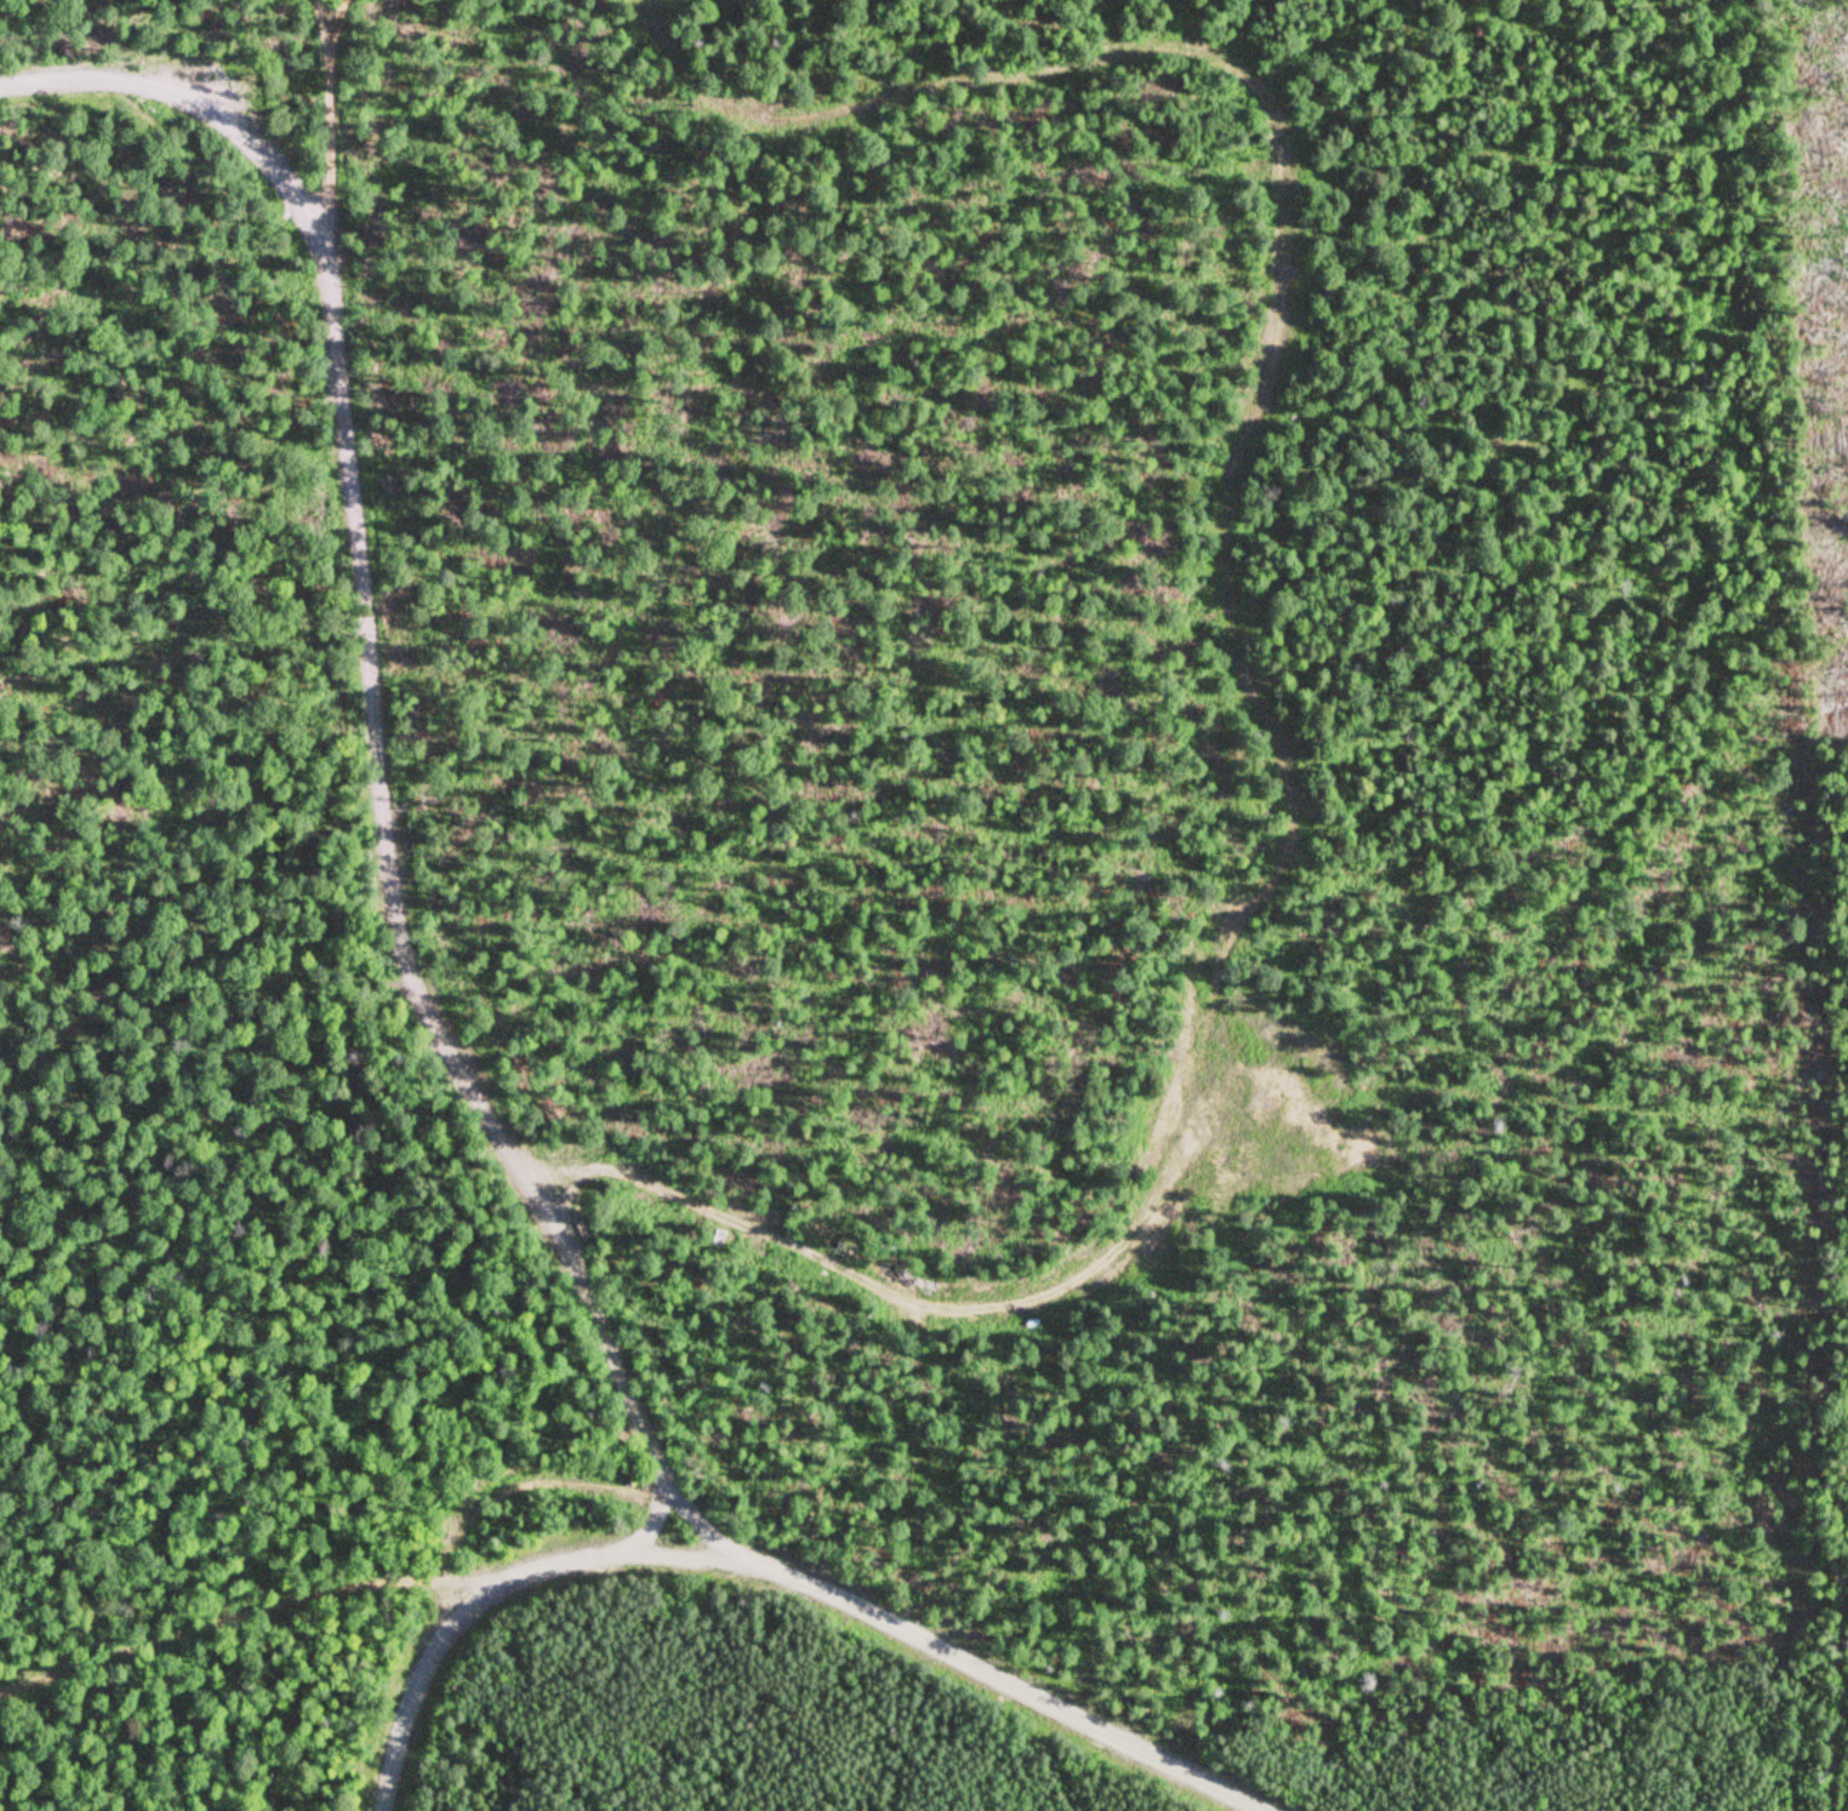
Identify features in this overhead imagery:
road: (346, 15)
road: (199, 101)
road: (1240, 649)
road: (397, 812)
road: (509, 1484)
road: (1641, 1524)
road: (656, 1525)
road: (768, 1571)
road: (221, 1616)

